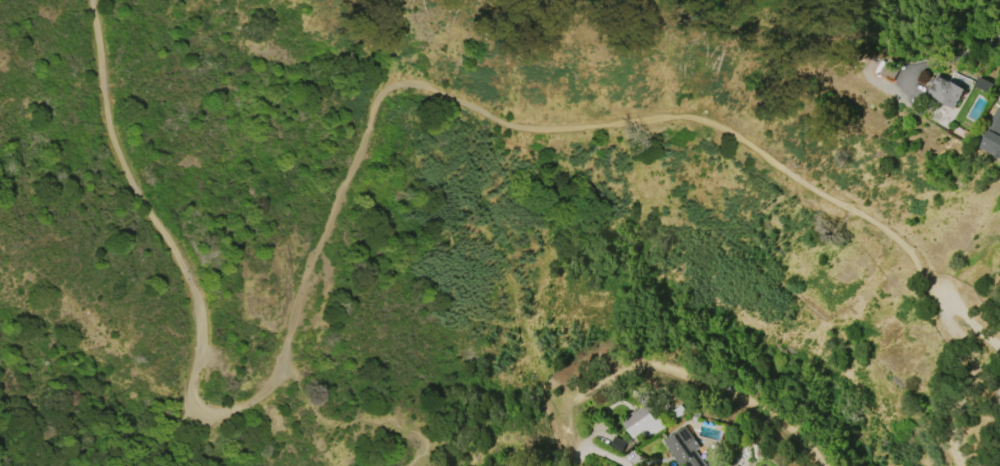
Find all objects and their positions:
road: (949, 58)
building: (888, 68)
building: (945, 92)
building: (999, 97)
building: (990, 146)
road: (338, 193)
road: (941, 300)
road: (964, 311)
road: (956, 395)
building: (644, 420)
road: (353, 424)
road: (172, 431)
building: (685, 448)
road: (583, 461)
road: (599, 461)

